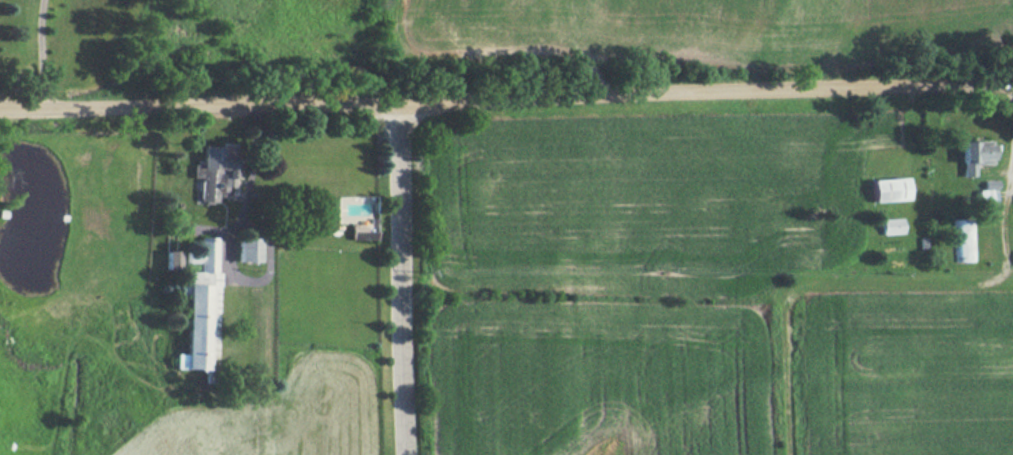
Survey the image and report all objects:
road: (40, 55)
road: (506, 101)
building: (974, 155)
building: (890, 189)
road: (247, 194)
building: (988, 194)
building: (893, 225)
building: (361, 233)
building: (248, 249)
building: (172, 259)
road: (399, 279)
building: (202, 310)

